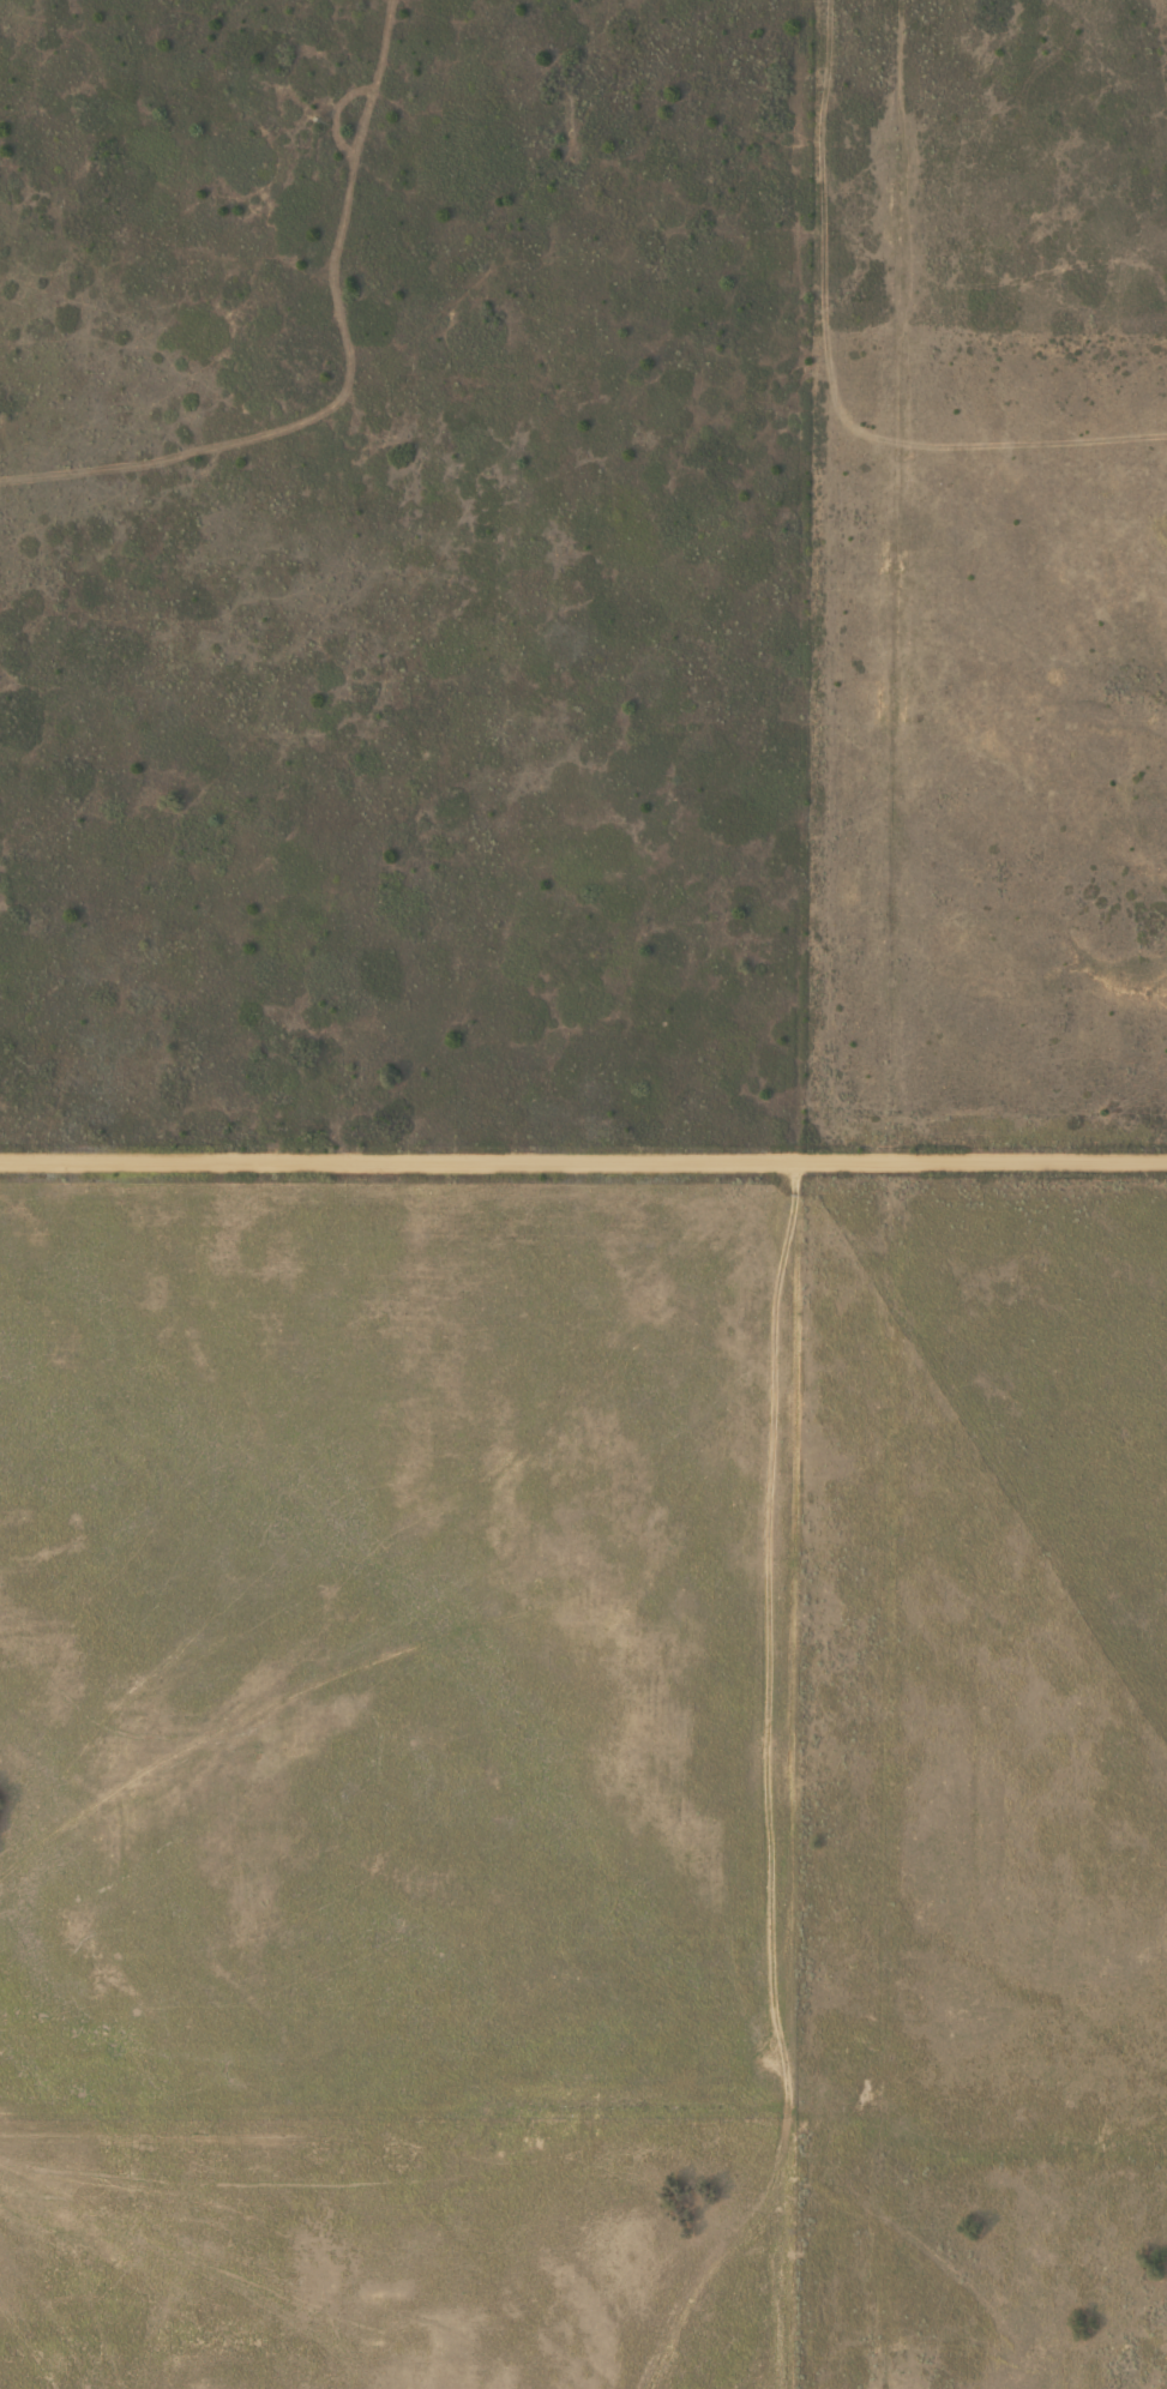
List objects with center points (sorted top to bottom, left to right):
road: (583, 1157)

